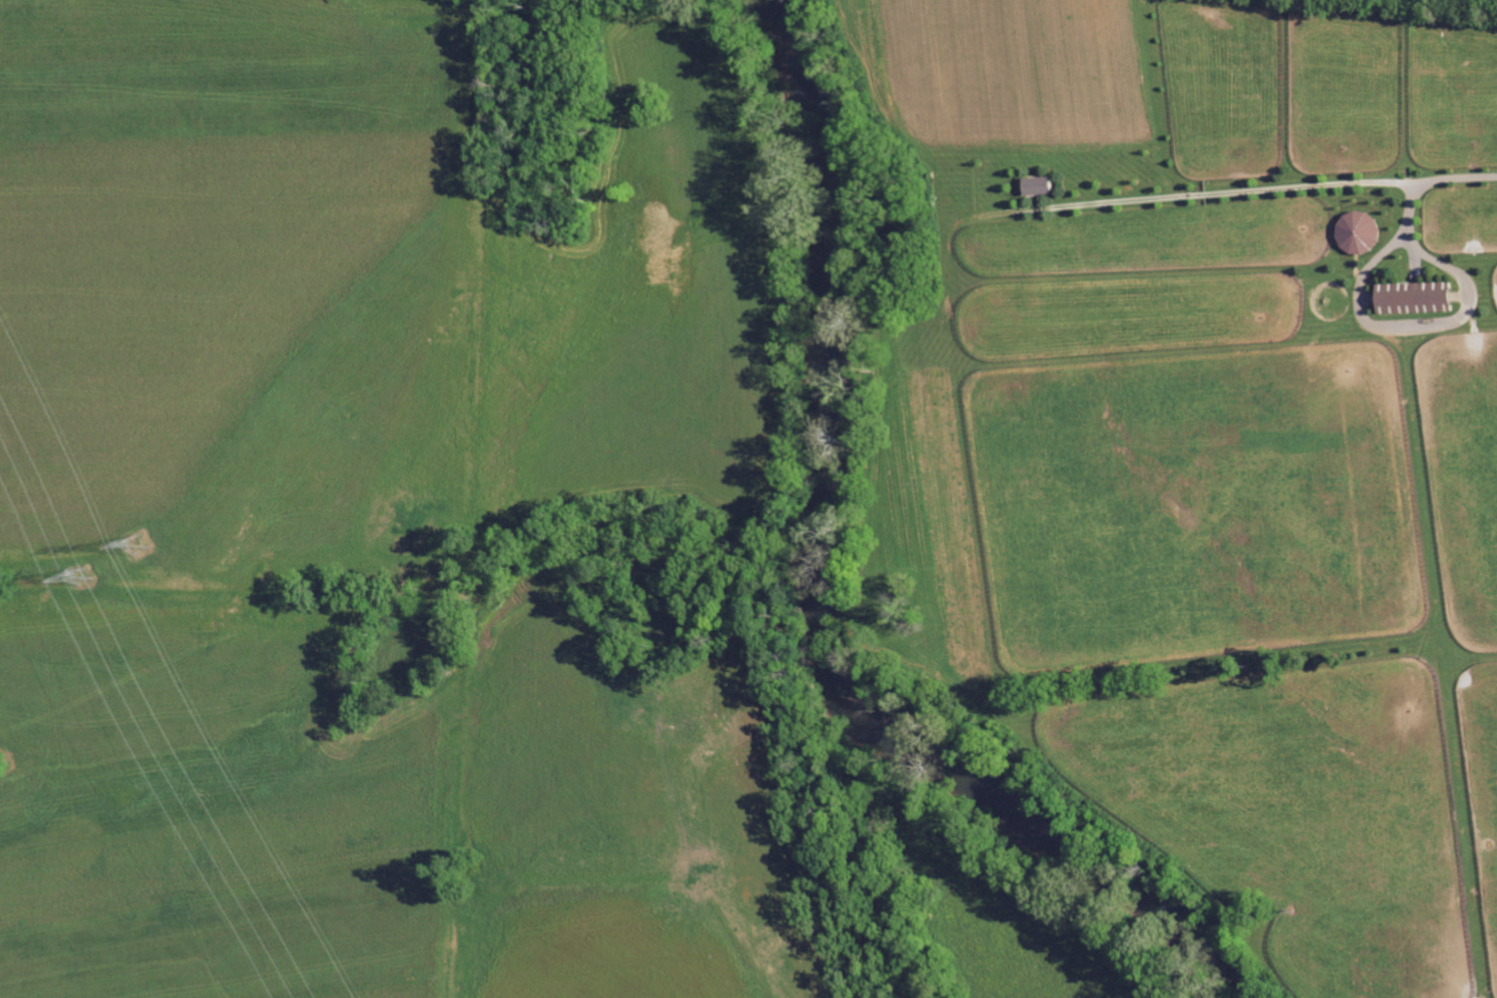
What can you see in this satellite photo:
building: (1033, 185)
road: (1264, 196)
road: (1408, 232)
building: (1409, 297)
road: (1407, 327)
power tower: (141, 545)
power tower: (85, 575)

